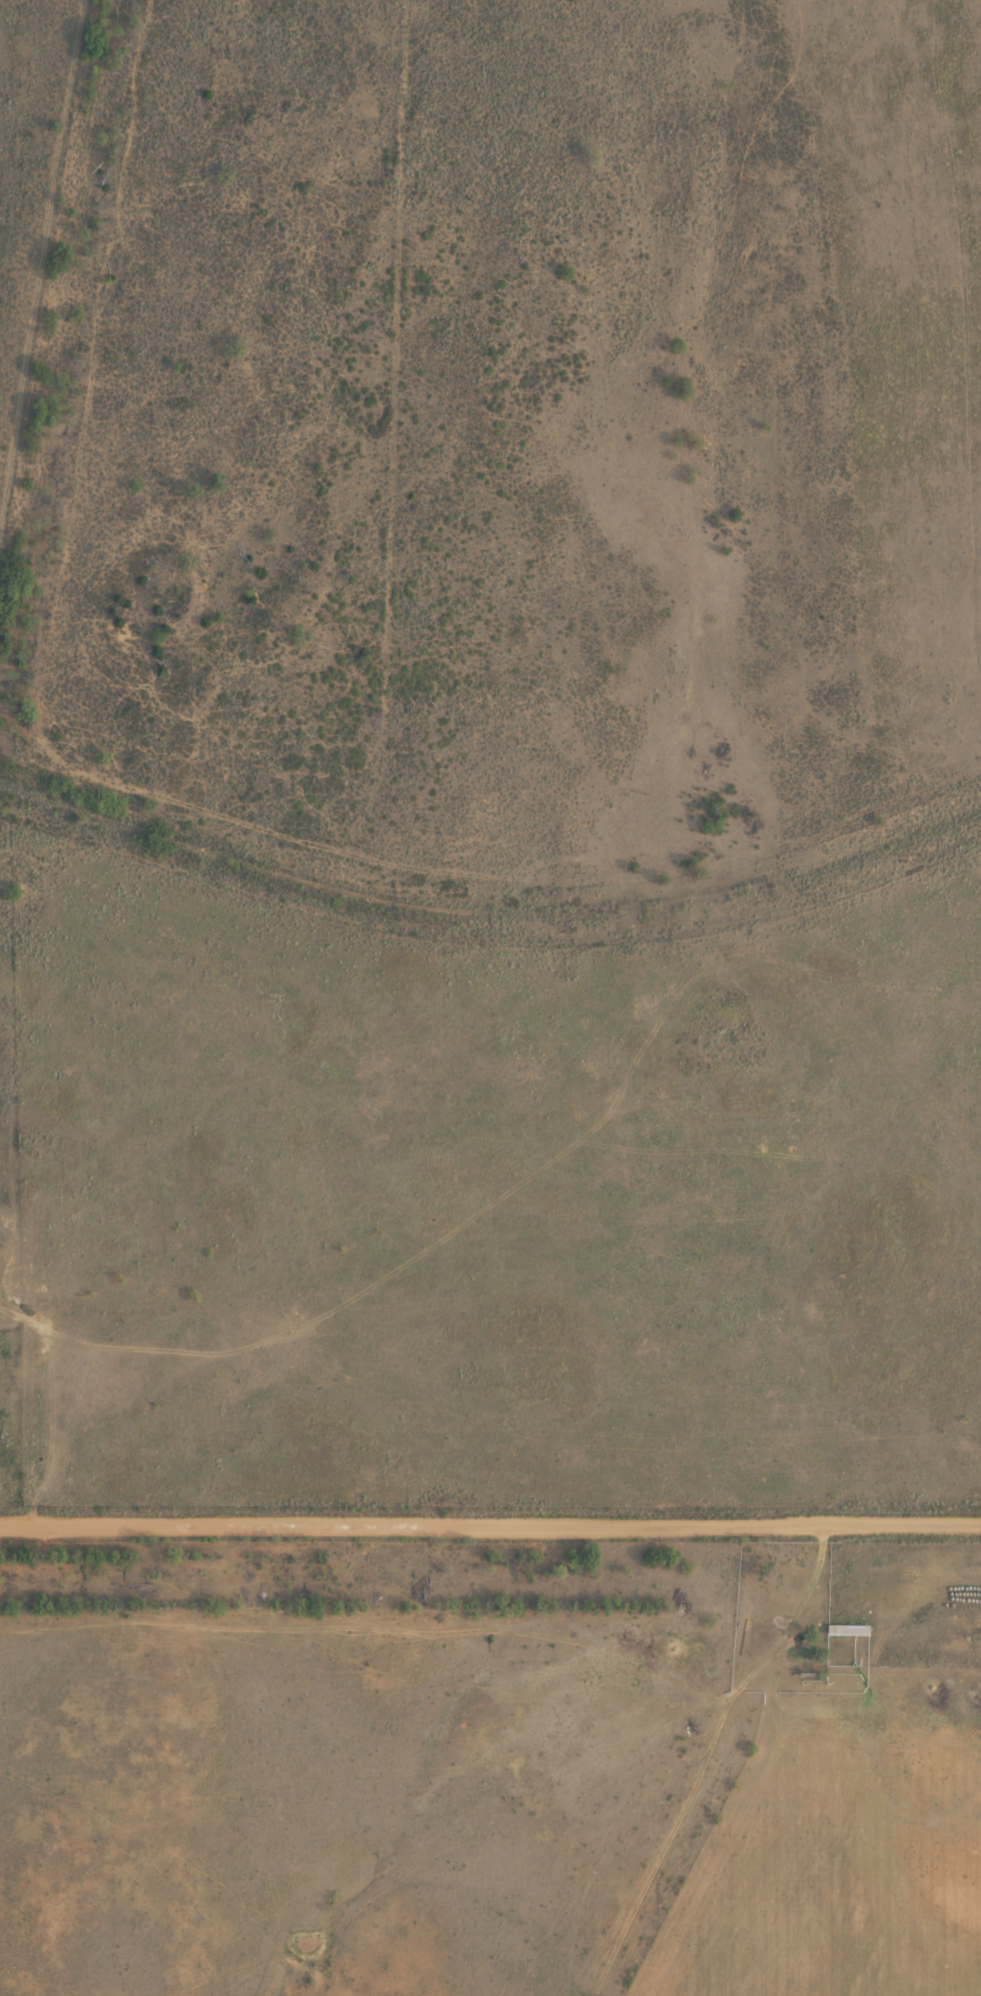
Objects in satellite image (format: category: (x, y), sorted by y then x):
road: (490, 1523)
building: (853, 1629)

